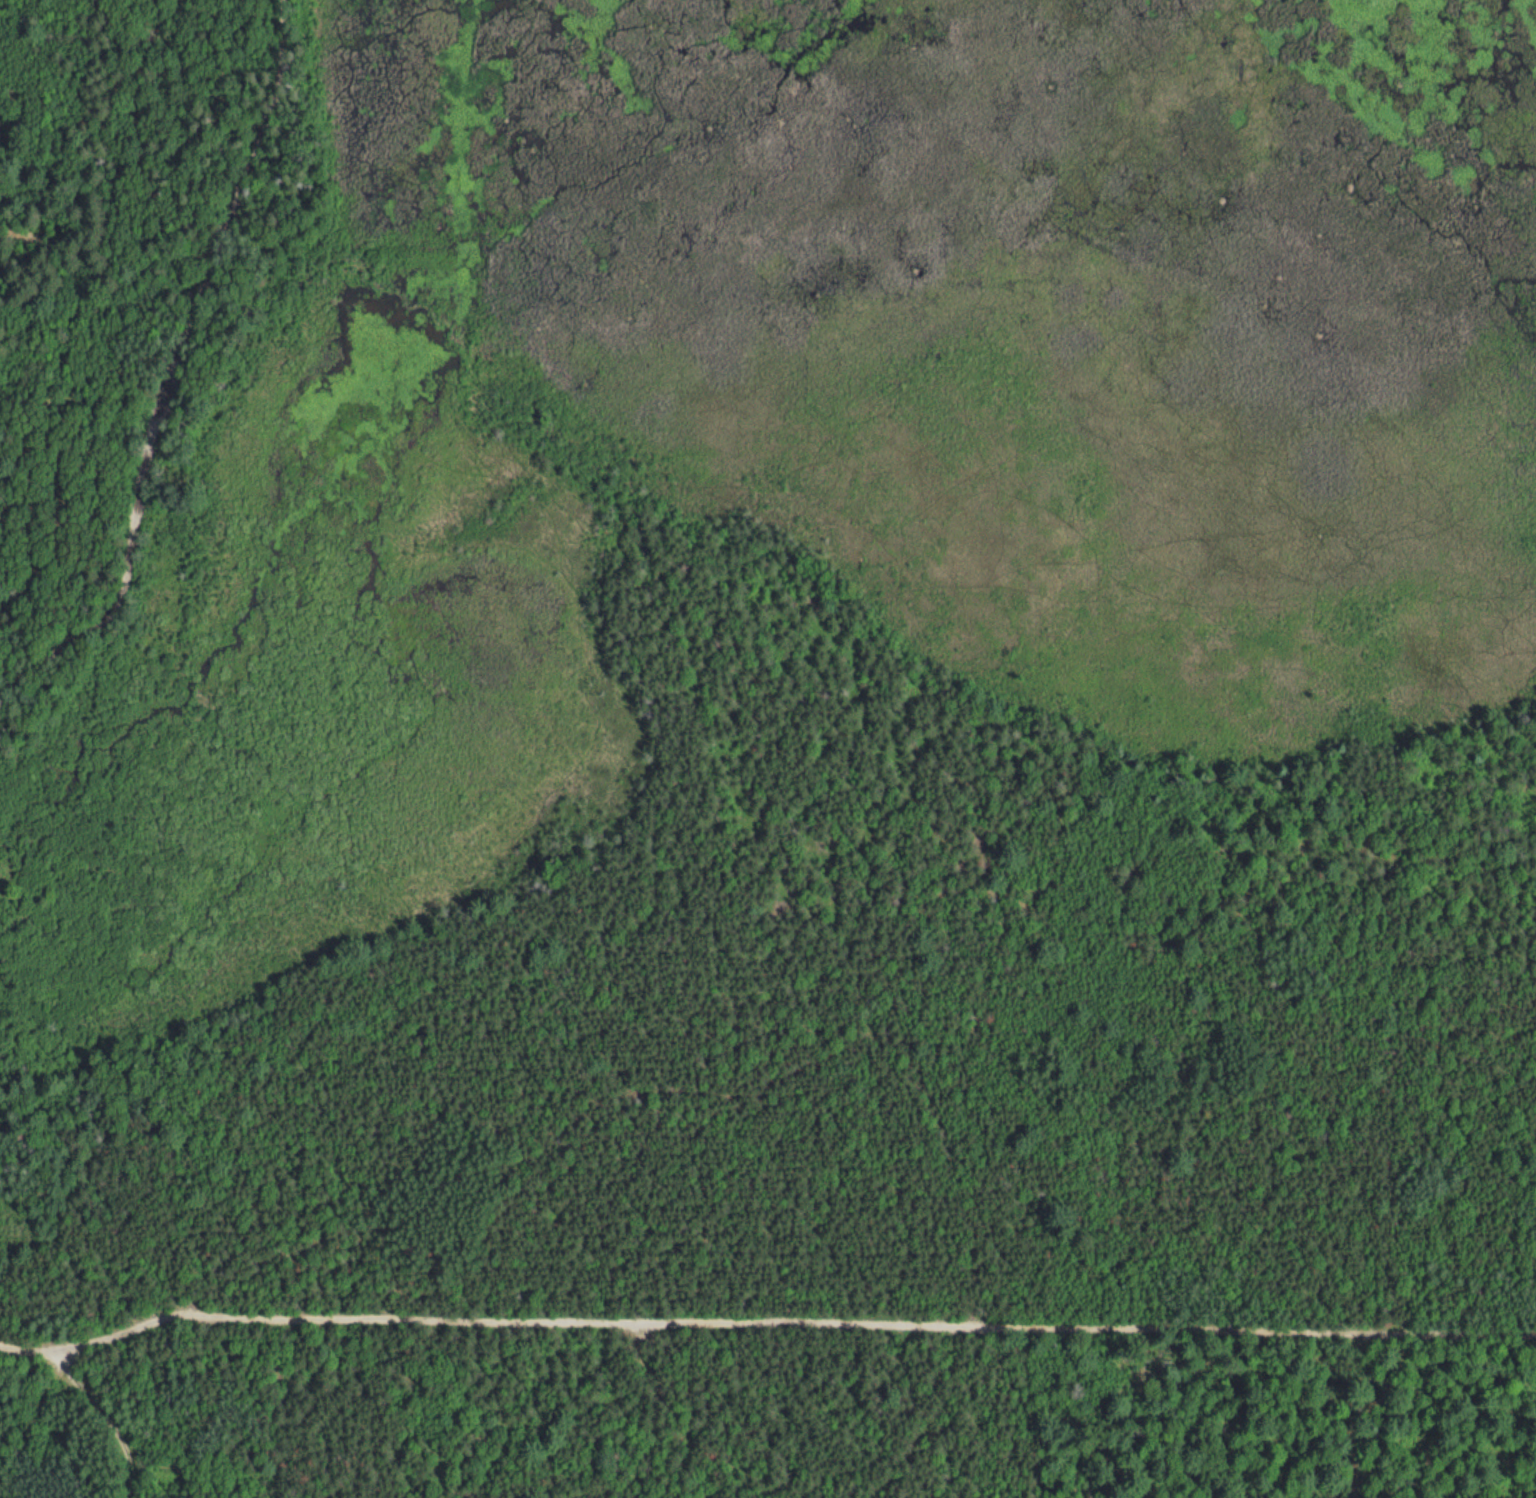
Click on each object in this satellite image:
road: (166, 357)
road: (764, 1320)
road: (109, 1418)

